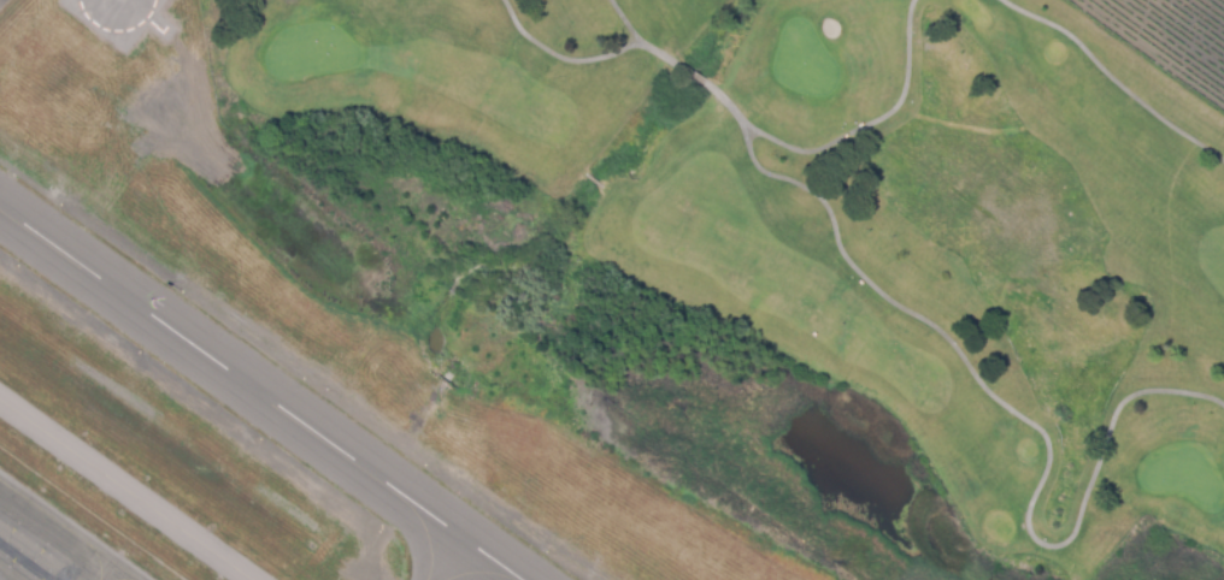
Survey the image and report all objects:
park: (777, 255)
airport: (249, 393)
airport runway: (254, 396)
airport taxiway: (131, 486)
airport taxiway: (455, 564)

